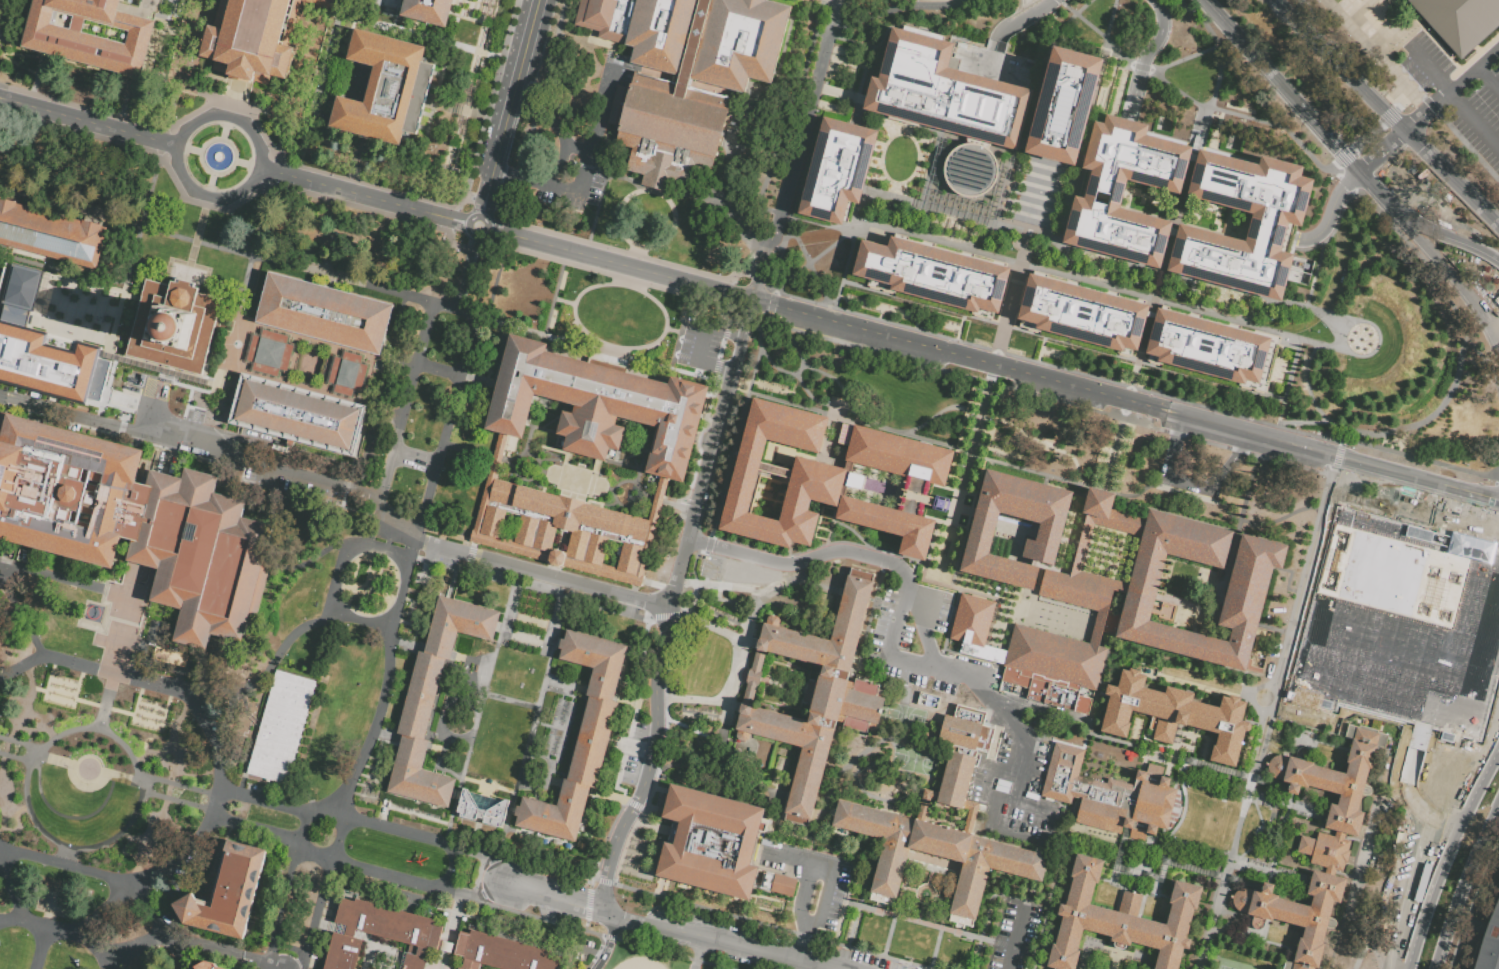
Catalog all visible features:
road: (921, 5)
road: (1294, 7)
building: (423, 10)
road: (1074, 12)
road: (986, 13)
road: (895, 14)
road: (1109, 18)
road: (1015, 19)
building: (1460, 21)
road: (1206, 28)
road: (1096, 30)
building: (91, 34)
building: (692, 36)
building: (256, 39)
road: (814, 40)
road: (157, 48)
road: (1376, 49)
road: (1145, 56)
road: (46, 58)
road: (1183, 58)
road: (1139, 66)
road: (1488, 77)
building: (909, 81)
road: (1452, 88)
road: (1214, 90)
building: (386, 91)
road: (513, 92)
road: (1405, 100)
road: (1454, 102)
road: (536, 103)
road: (81, 105)
road: (229, 105)
road: (1430, 105)
road: (601, 106)
building: (1061, 110)
road: (1386, 112)
road: (226, 116)
road: (1283, 116)
road: (1388, 116)
road: (872, 117)
building: (666, 118)
road: (483, 120)
road: (87, 121)
road: (886, 129)
road: (79, 130)
road: (224, 131)
building: (978, 132)
road: (1365, 137)
road: (160, 139)
road: (1338, 147)
road: (188, 148)
road: (792, 148)
road: (1468, 148)
road: (1382, 150)
fountain: (216, 155)
road: (1343, 156)
parking lot: (579, 159)
road: (559, 160)
road: (241, 161)
road: (232, 165)
road: (1333, 165)
building: (655, 168)
road: (272, 170)
road: (583, 170)
building: (835, 171)
road: (1086, 171)
road: (614, 174)
road: (169, 175)
road: (368, 182)
road: (897, 183)
road: (1345, 183)
road: (209, 184)
road: (651, 189)
building: (1103, 190)
road: (652, 191)
road: (1004, 192)
road: (366, 194)
road: (897, 194)
road: (205, 195)
road: (247, 196)
road: (482, 198)
road: (203, 203)
road: (483, 204)
parking lot: (1187, 205)
road: (362, 206)
road: (1066, 208)
road: (855, 211)
road: (1331, 212)
road: (496, 215)
road: (141, 218)
road: (928, 223)
building: (1266, 228)
road: (195, 235)
building: (50, 237)
road: (259, 238)
road: (490, 240)
road: (472, 246)
road: (217, 247)
road: (617, 250)
road: (635, 250)
road: (1318, 252)
road: (1022, 255)
road: (1082, 255)
road: (813, 256)
road: (464, 267)
road: (809, 267)
road: (1161, 269)
road: (1055, 270)
road: (442, 273)
building: (931, 276)
road: (1312, 280)
road: (627, 282)
road: (1436, 282)
road: (486, 286)
road: (1308, 298)
street lamp: (1314, 303)
road: (741, 306)
building: (322, 311)
road: (456, 311)
road: (237, 314)
road: (115, 315)
road: (821, 315)
building: (1081, 317)
road: (1329, 320)
building: (171, 325)
road: (663, 327)
street lamp: (1316, 331)
road: (1377, 331)
road: (678, 334)
road: (689, 341)
road: (110, 342)
road: (701, 342)
building: (38, 343)
road: (471, 346)
parking lot: (701, 348)
road: (111, 349)
road: (610, 350)
building: (1206, 350)
building: (267, 351)
road: (372, 354)
road: (378, 356)
road: (685, 356)
road: (993, 364)
road: (407, 365)
road: (440, 368)
road: (162, 370)
building: (345, 372)
road: (1119, 383)
building: (514, 385)
road: (105, 389)
road: (210, 389)
road: (7, 396)
road: (1127, 398)
building: (596, 400)
road: (406, 401)
road: (1314, 403)
road: (365, 404)
road: (457, 404)
road: (395, 412)
road: (182, 414)
building: (295, 414)
road: (1417, 421)
building: (674, 428)
road: (1156, 429)
road: (1322, 448)
road: (445, 450)
road: (709, 451)
road: (417, 459)
road: (1338, 470)
road: (1351, 473)
road: (966, 474)
parking lot: (266, 479)
building: (814, 480)
road: (1498, 480)
road: (1386, 483)
road: (1187, 484)
road: (1330, 485)
building: (917, 487)
building: (67, 489)
road: (350, 489)
road: (1423, 492)
road: (1487, 493)
road: (434, 495)
road: (1437, 495)
road: (1487, 497)
road: (1412, 507)
building: (564, 519)
road: (445, 526)
road: (416, 530)
road: (338, 544)
road: (1314, 546)
road: (388, 550)
building: (201, 556)
road: (489, 569)
road: (51, 575)
road: (337, 578)
road: (926, 584)
building: (1112, 590)
road: (133, 591)
road: (120, 593)
road: (716, 595)
road: (911, 597)
road: (617, 607)
road: (757, 609)
road: (682, 611)
road: (20, 612)
fountain: (92, 612)
road: (359, 620)
street lamp: (346, 624)
building: (1399, 626)
road: (27, 627)
building: (973, 628)
road: (91, 637)
parking lot: (918, 640)
road: (888, 644)
building: (177, 658)
street lamp: (46, 665)
road: (53, 665)
road: (266, 666)
road: (82, 672)
street lamp: (22, 675)
street lamp: (89, 676)
road: (111, 677)
road: (386, 681)
road: (38, 688)
street lamp: (135, 688)
road: (141, 688)
building: (820, 692)
road: (170, 696)
road: (509, 699)
street lamp: (176, 700)
building: (432, 700)
road: (635, 700)
road: (104, 705)
road: (726, 705)
road: (478, 709)
road: (441, 711)
road: (17, 715)
park: (904, 715)
road: (40, 718)
street lamp: (192, 719)
road: (532, 720)
building: (1175, 721)
road: (170, 725)
building: (281, 727)
parking lot: (638, 731)
street lamp: (6, 733)
building: (579, 740)
road: (19, 742)
road: (154, 749)
road: (1130, 750)
road: (39, 755)
road: (17, 757)
street lamp: (210, 758)
road: (653, 760)
park: (913, 760)
road: (85, 767)
parking lot: (629, 769)
road: (25, 772)
road: (195, 774)
road: (218, 775)
road: (170, 776)
building: (1334, 777)
street lamp: (176, 779)
road: (136, 780)
street lamp: (358, 780)
road: (181, 784)
road: (487, 784)
street lamp: (202, 786)
road: (611, 798)
building: (1110, 798)
road: (4, 799)
road: (175, 800)
road: (263, 803)
building: (481, 807)
road: (406, 811)
road: (1046, 811)
road: (12, 814)
road: (64, 815)
road: (256, 826)
road: (391, 828)
building: (944, 829)
road: (1263, 833)
road: (1436, 833)
road: (1453, 833)
road: (473, 835)
street lamp: (13, 842)
building: (709, 842)
road: (336, 845)
street lamp: (44, 850)
road: (65, 852)
road: (480, 852)
road: (798, 854)
building: (1328, 854)
road: (135, 856)
road: (825, 860)
street lamp: (89, 863)
road: (450, 867)
street lamp: (117, 870)
road: (418, 881)
road: (1461, 881)
road: (589, 883)
building: (782, 884)
street lamp: (415, 891)
building: (228, 892)
road: (551, 895)
road: (70, 897)
road: (18, 901)
road: (1472, 901)
road: (587, 904)
road: (280, 905)
road: (706, 908)
road: (607, 910)
road: (314, 913)
road: (897, 916)
building: (1121, 918)
building: (1297, 918)
road: (100, 922)
road: (584, 925)
road: (851, 925)
road: (47, 926)
building: (391, 926)
road: (448, 931)
street lamp: (27, 934)
parking lot: (1015, 934)
road: (603, 935)
road: (888, 935)
road: (708, 936)
road: (80, 940)
road: (607, 940)
road: (1014, 940)
road: (188, 941)
building: (1489, 941)
street lamp: (58, 942)
road: (805, 942)
road: (935, 947)
road: (1412, 947)
road: (41, 950)
parking lot: (587, 951)
road: (590, 951)
building: (342, 952)
building: (502, 952)
road: (700, 952)
road: (1115, 955)
road: (110, 958)
parking lot: (871, 960)
park: (639, 964)
road: (818, 964)
road: (903, 965)
building: (208, 967)
park: (1224, 967)
road: (594, 968)
building: (1151, 968)

